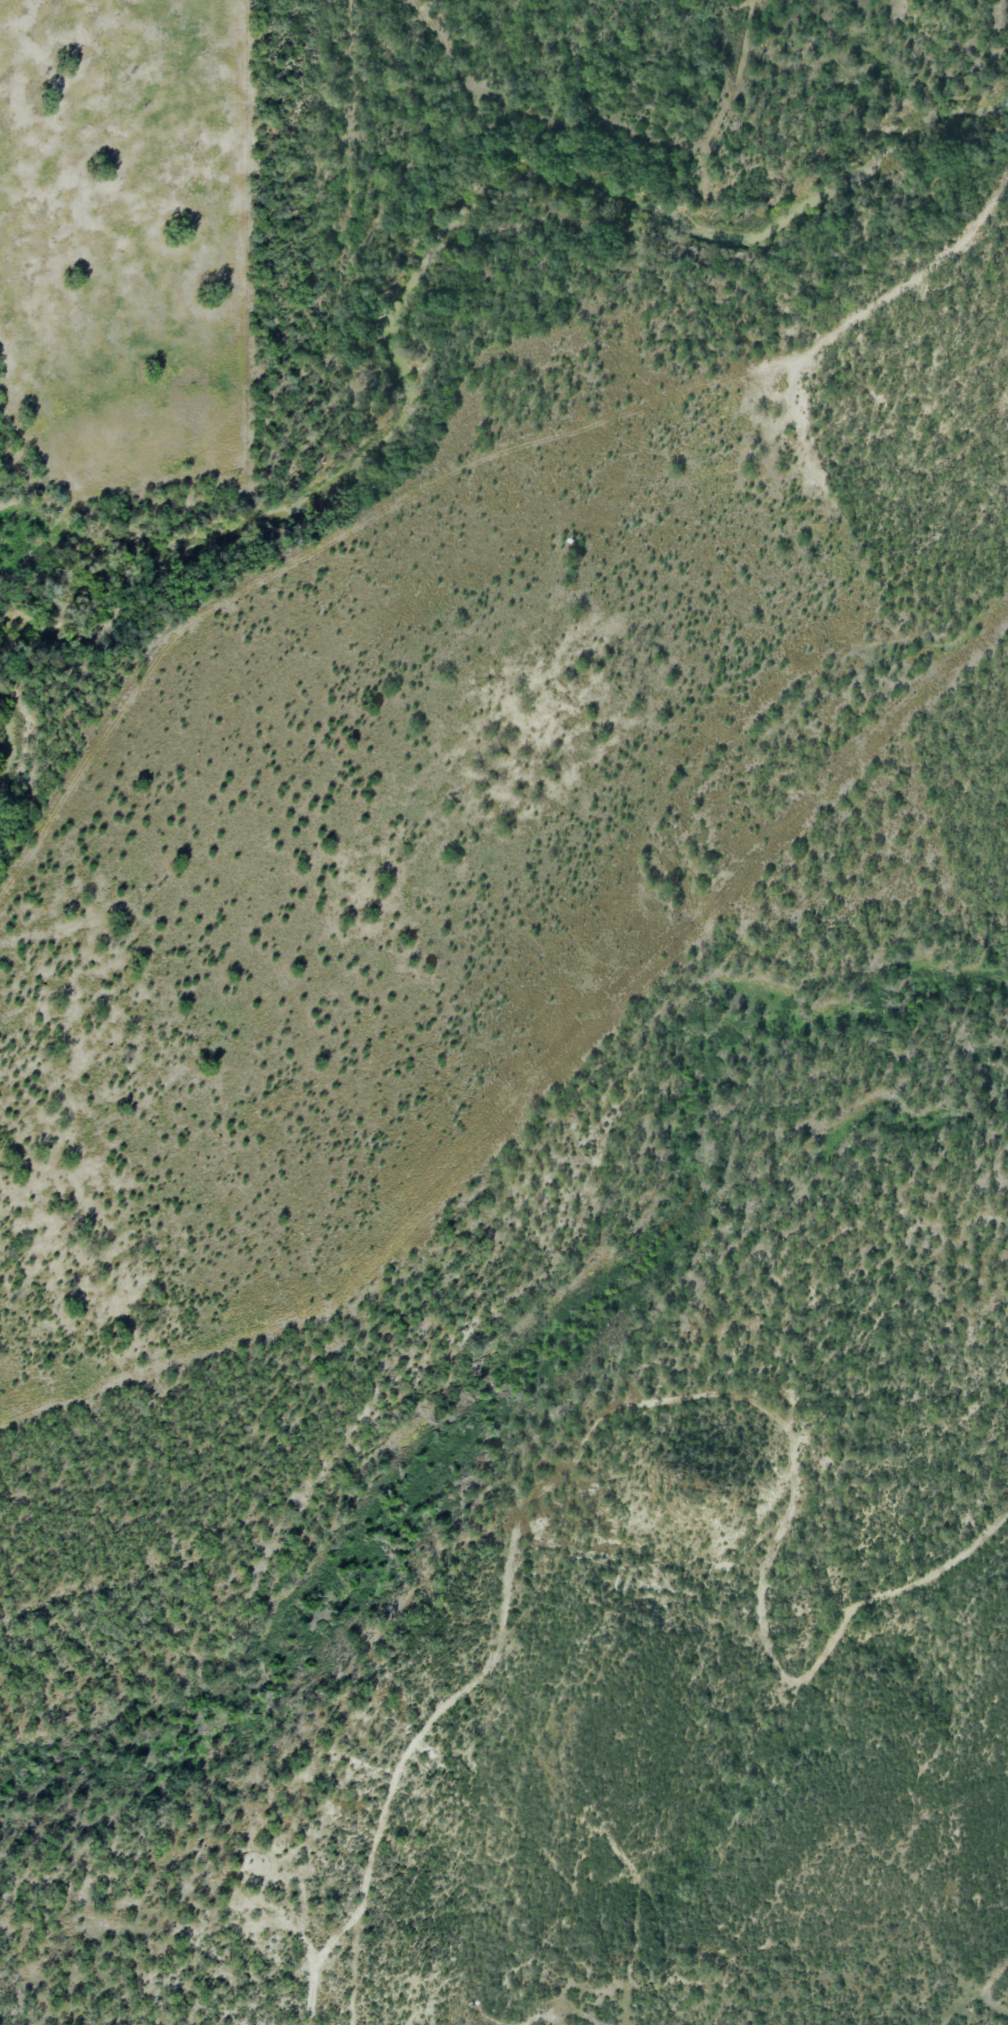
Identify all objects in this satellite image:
river: (429, 254)
river: (4, 724)

